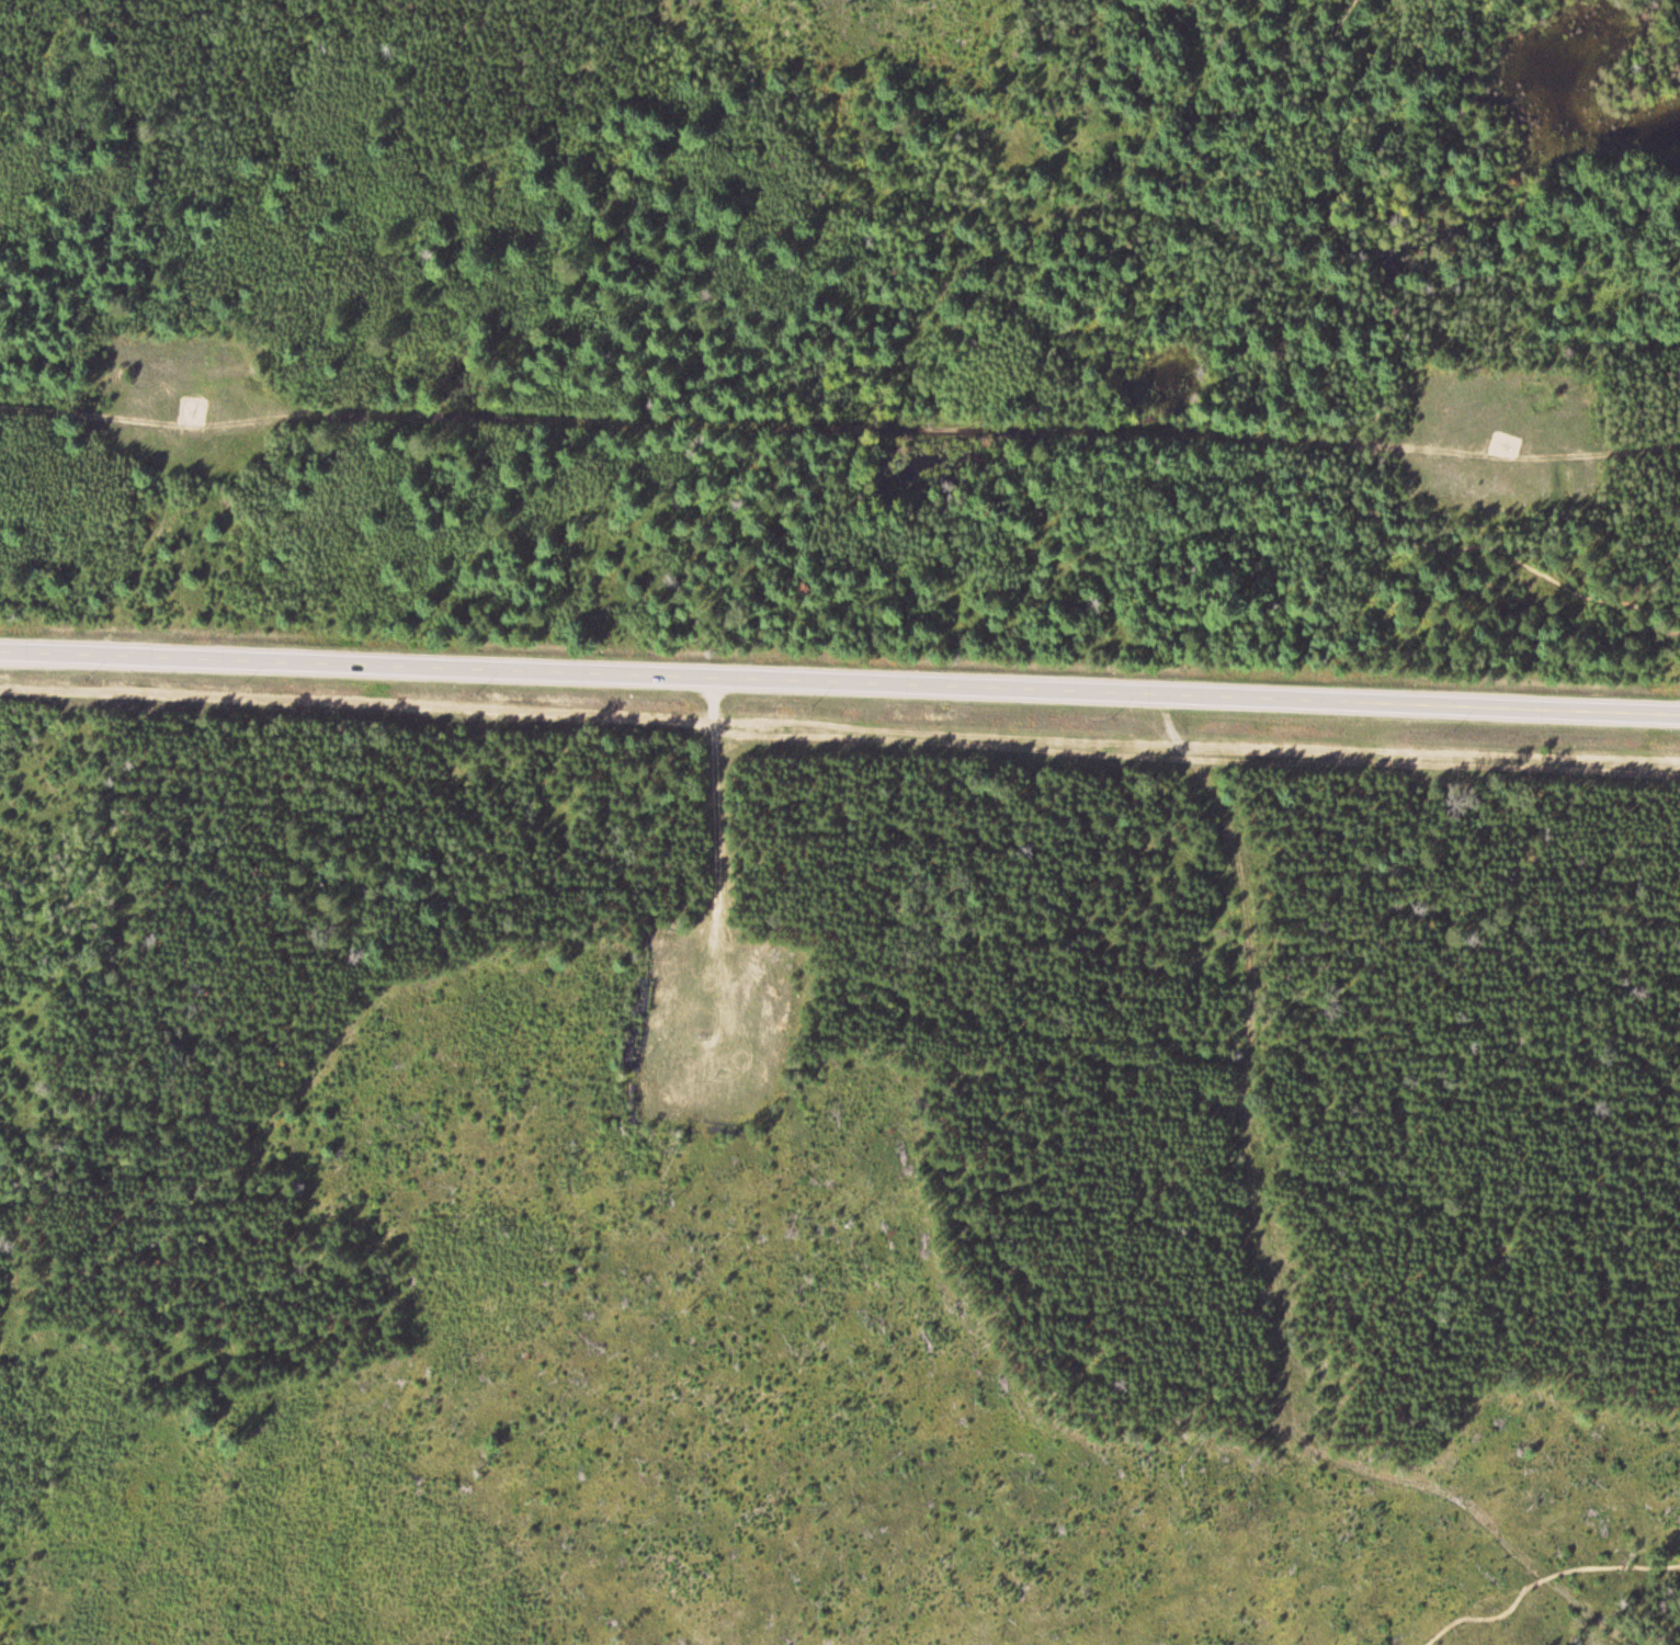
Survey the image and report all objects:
petroleum well: (188, 405)
road: (839, 424)
road: (1374, 427)
road: (840, 680)
road: (1272, 1256)
road: (1541, 1574)

